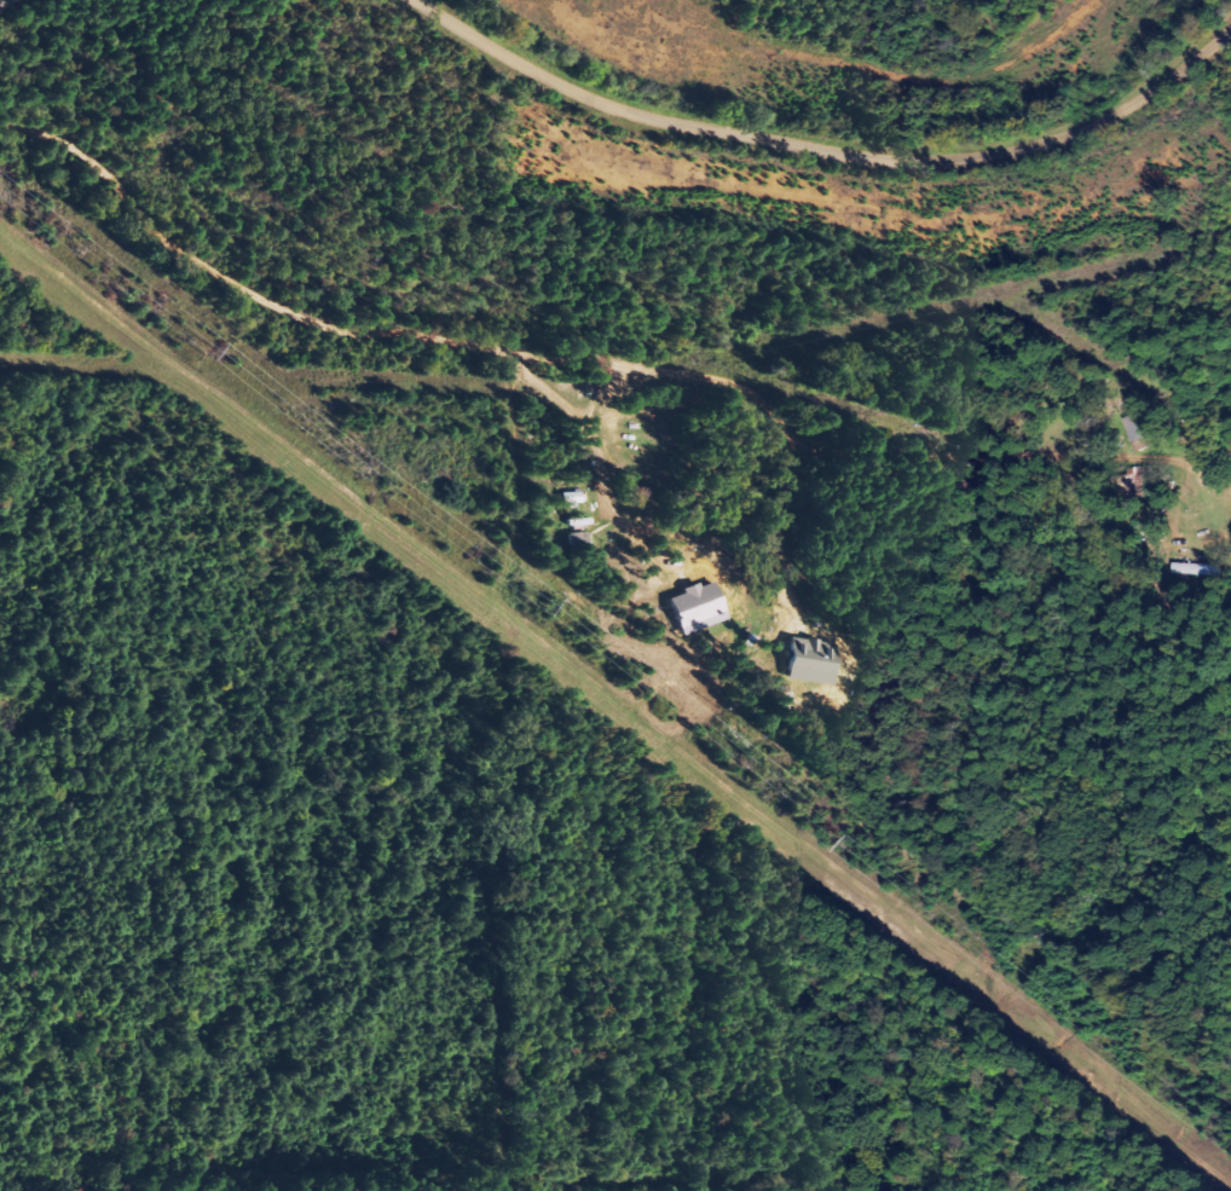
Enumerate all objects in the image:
road: (7, 4)
road: (439, 16)
road: (854, 152)
road: (561, 354)
power tower: (227, 355)
building: (1142, 432)
power tower: (530, 602)
building: (697, 608)
building: (814, 661)
power tower: (842, 843)

